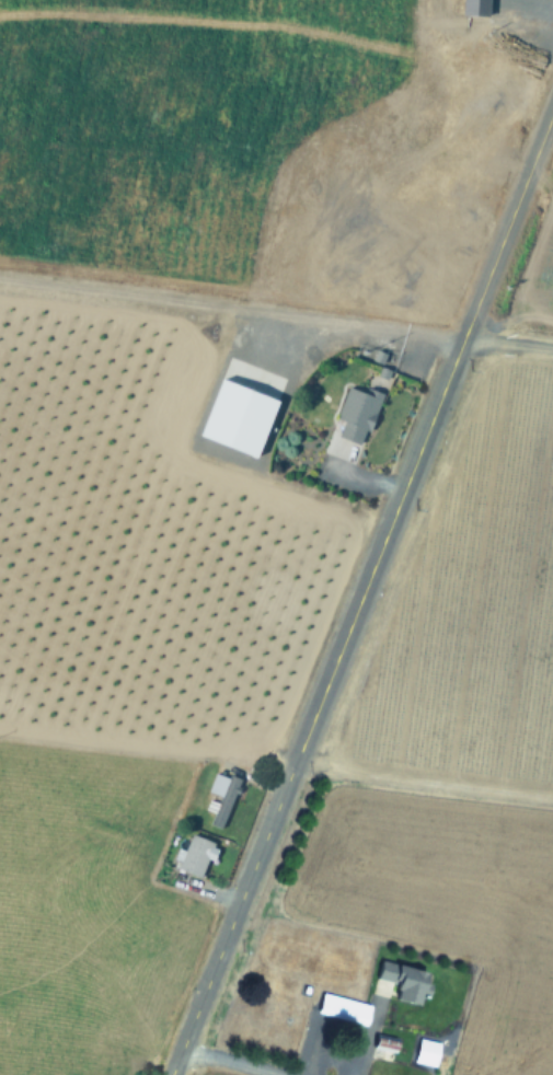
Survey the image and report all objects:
road: (500, 44)
road: (371, 331)
road: (508, 340)
building: (356, 415)
crop: (198, 435)
road: (362, 592)
crop: (434, 777)
building: (222, 796)
building: (196, 855)
building: (403, 980)
building: (344, 1006)
building: (385, 1041)
building: (427, 1050)
road: (333, 1056)
road: (231, 1062)

